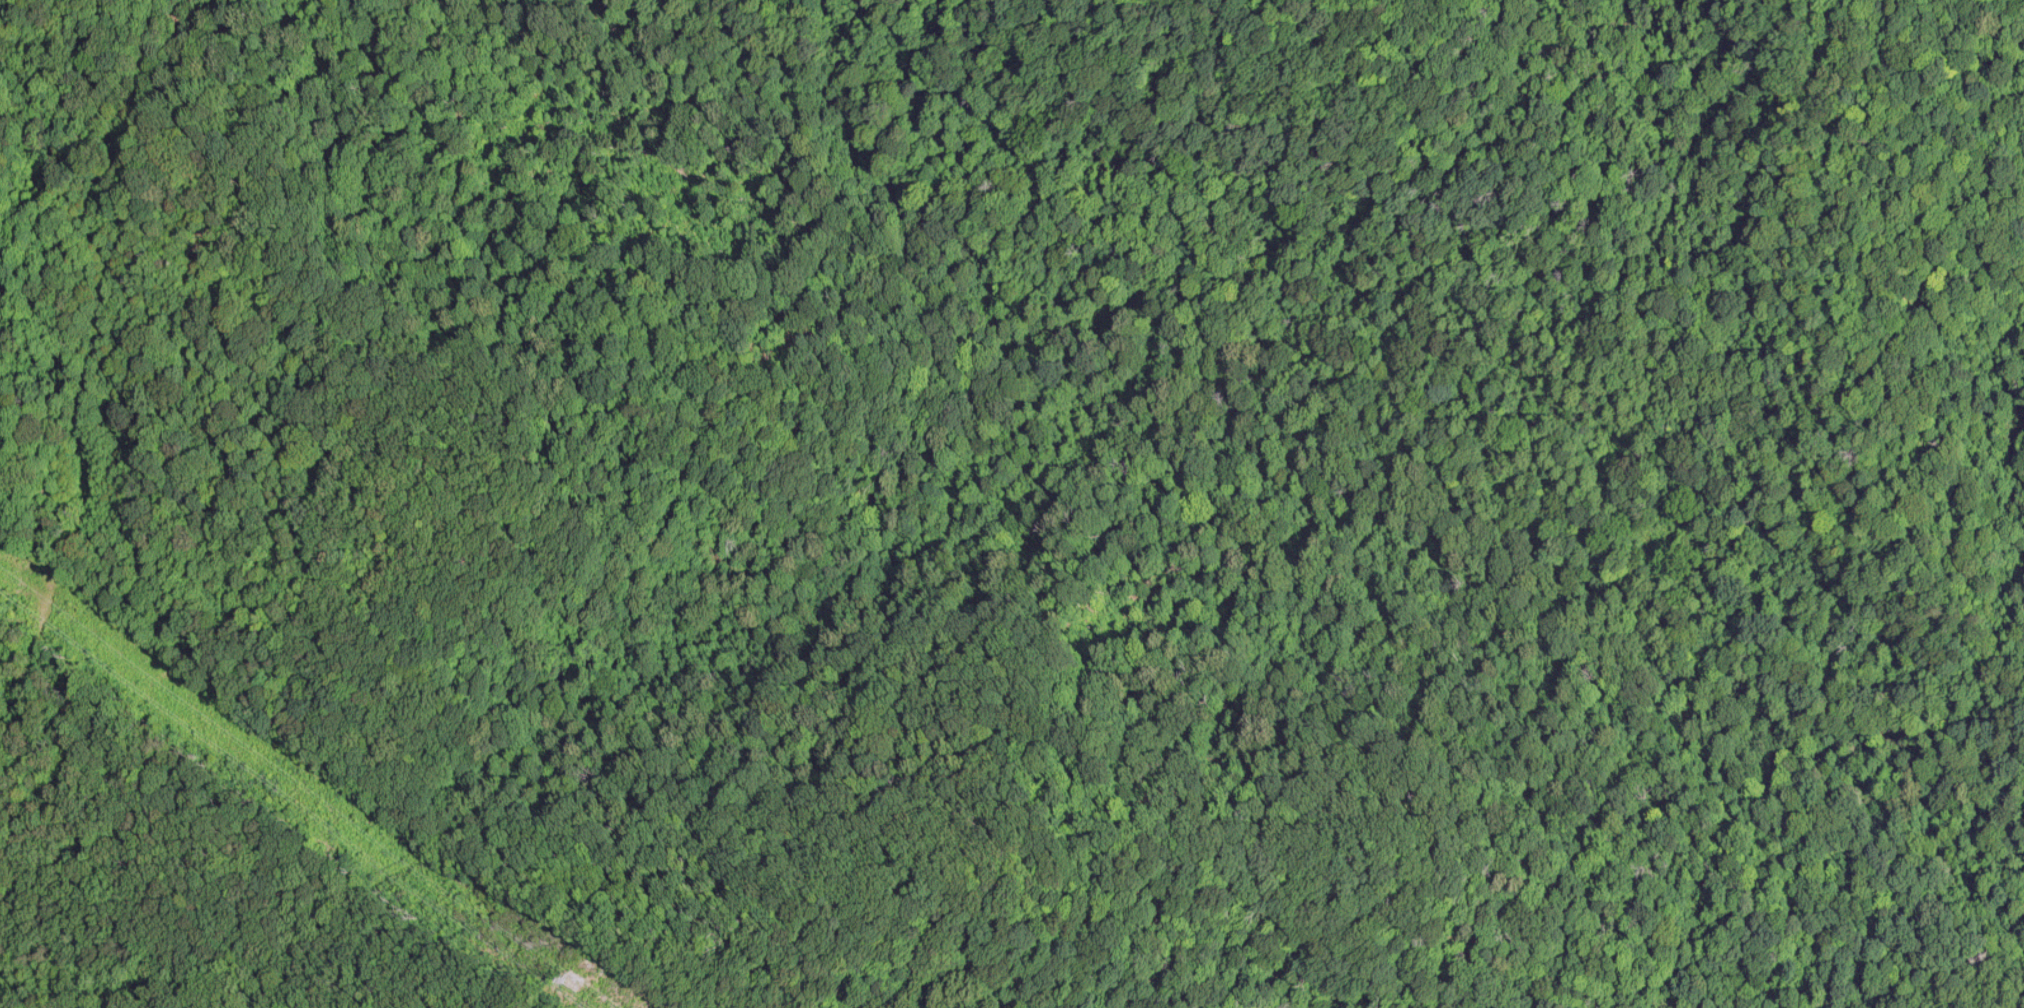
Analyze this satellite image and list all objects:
power tower: (567, 984)

